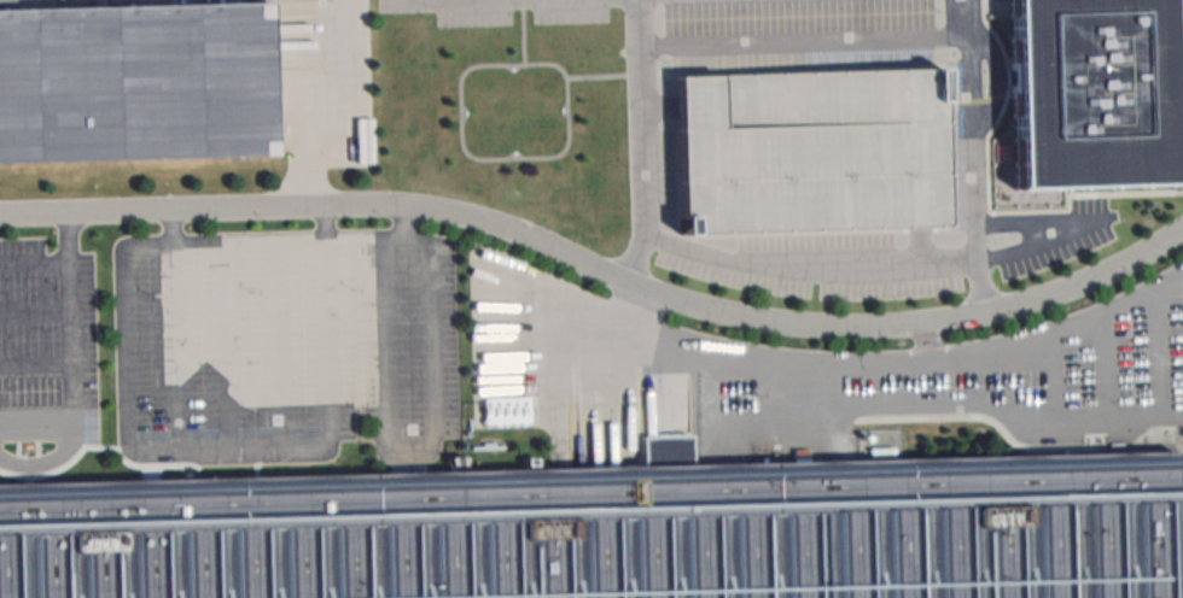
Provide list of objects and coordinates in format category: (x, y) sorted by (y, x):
road: (971, 18)
road: (641, 23)
road: (806, 41)
road: (547, 64)
building: (136, 81)
building: (1090, 93)
road: (313, 101)
road: (973, 131)
road: (645, 140)
building: (811, 151)
parking garage: (811, 151)
road: (485, 159)
road: (401, 222)
road: (1044, 222)
road: (326, 223)
road: (174, 228)
road: (69, 238)
road: (1041, 246)
road: (977, 247)
road: (634, 260)
road: (599, 274)
road: (810, 274)
road: (983, 292)
road: (35, 312)
road: (381, 338)
road: (330, 339)
road: (925, 342)
road: (71, 344)
road: (281, 346)
parking lot: (289, 346)
road: (227, 347)
road: (179, 348)
road: (1155, 353)
parking lot: (45, 356)
road: (882, 363)
road: (36, 367)
road: (1101, 368)
road: (1056, 376)
road: (805, 392)
road: (914, 405)
road: (426, 452)
road: (49, 461)
building: (612, 530)

